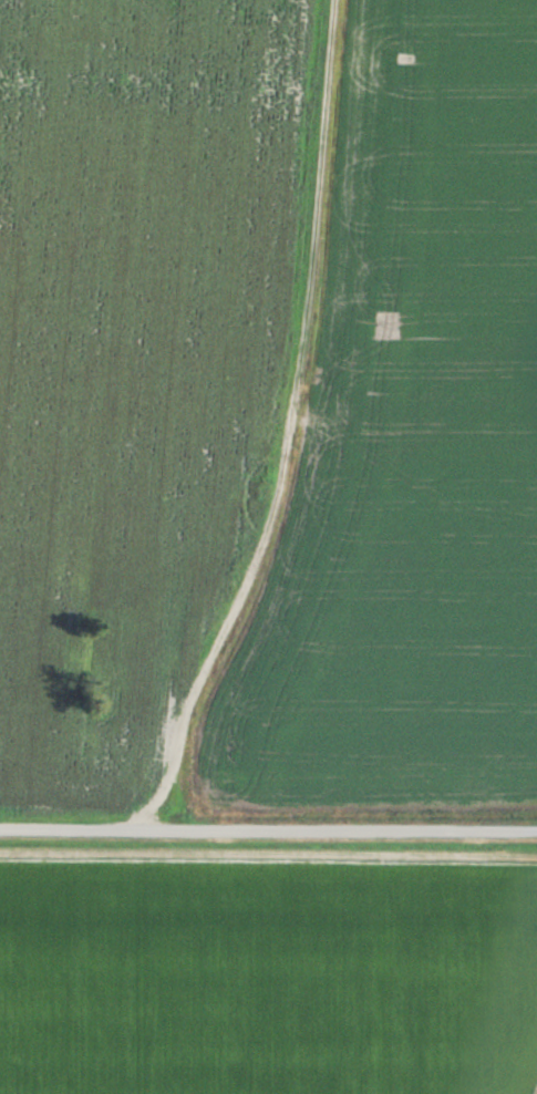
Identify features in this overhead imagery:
road: (268, 824)

